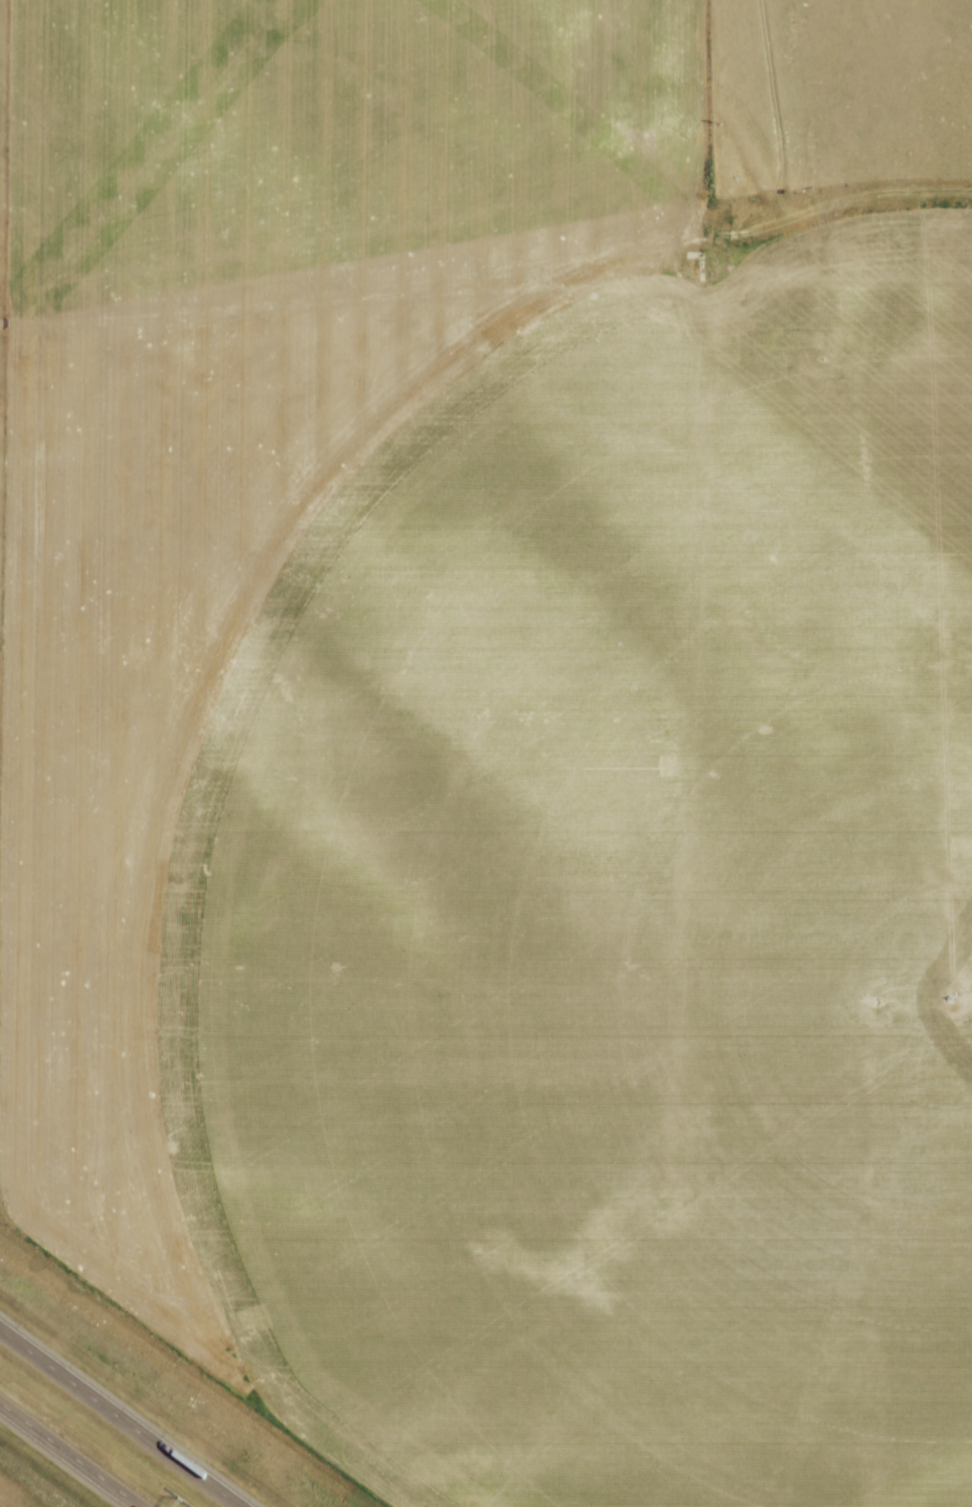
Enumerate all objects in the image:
crop: (486, 762)
road: (122, 1416)
road: (70, 1455)

